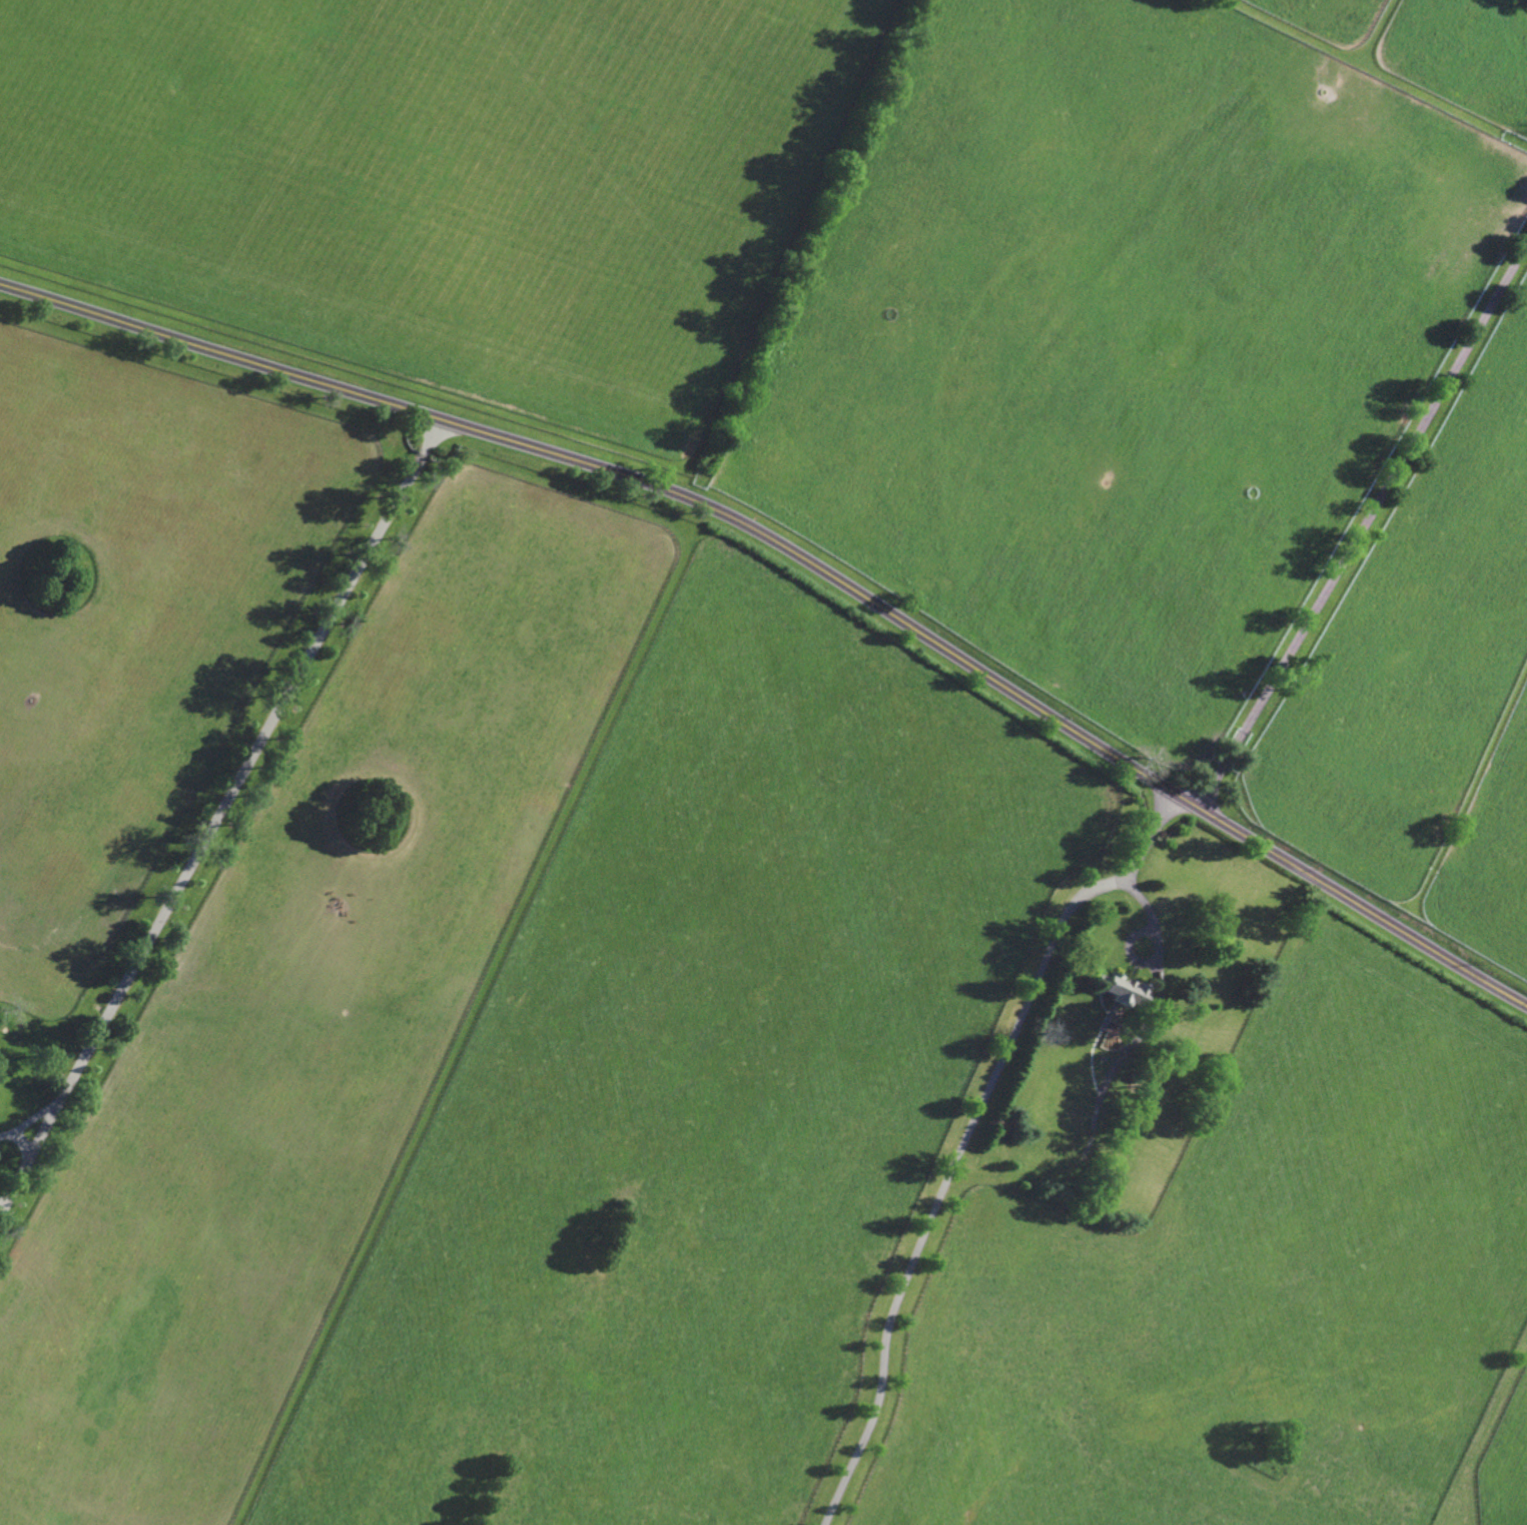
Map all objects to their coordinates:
road: (1363, 525)
road: (802, 558)
road: (219, 813)
road: (1158, 949)
building: (1118, 991)
road: (966, 1138)
road: (16, 1139)
road: (0, 1206)

